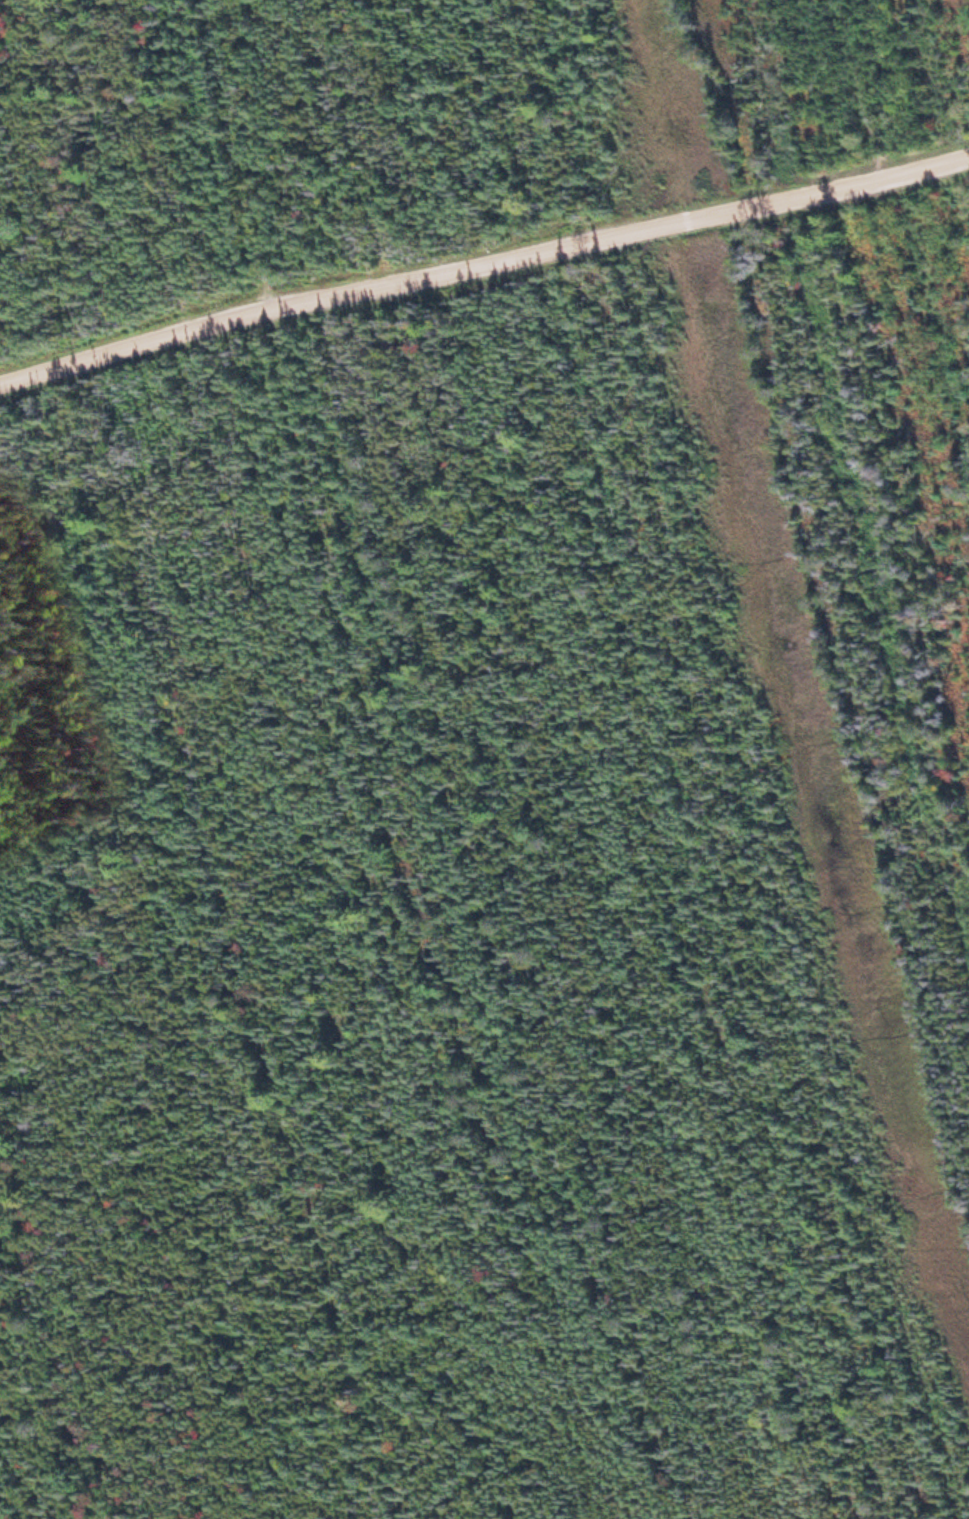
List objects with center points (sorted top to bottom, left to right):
road: (482, 261)

